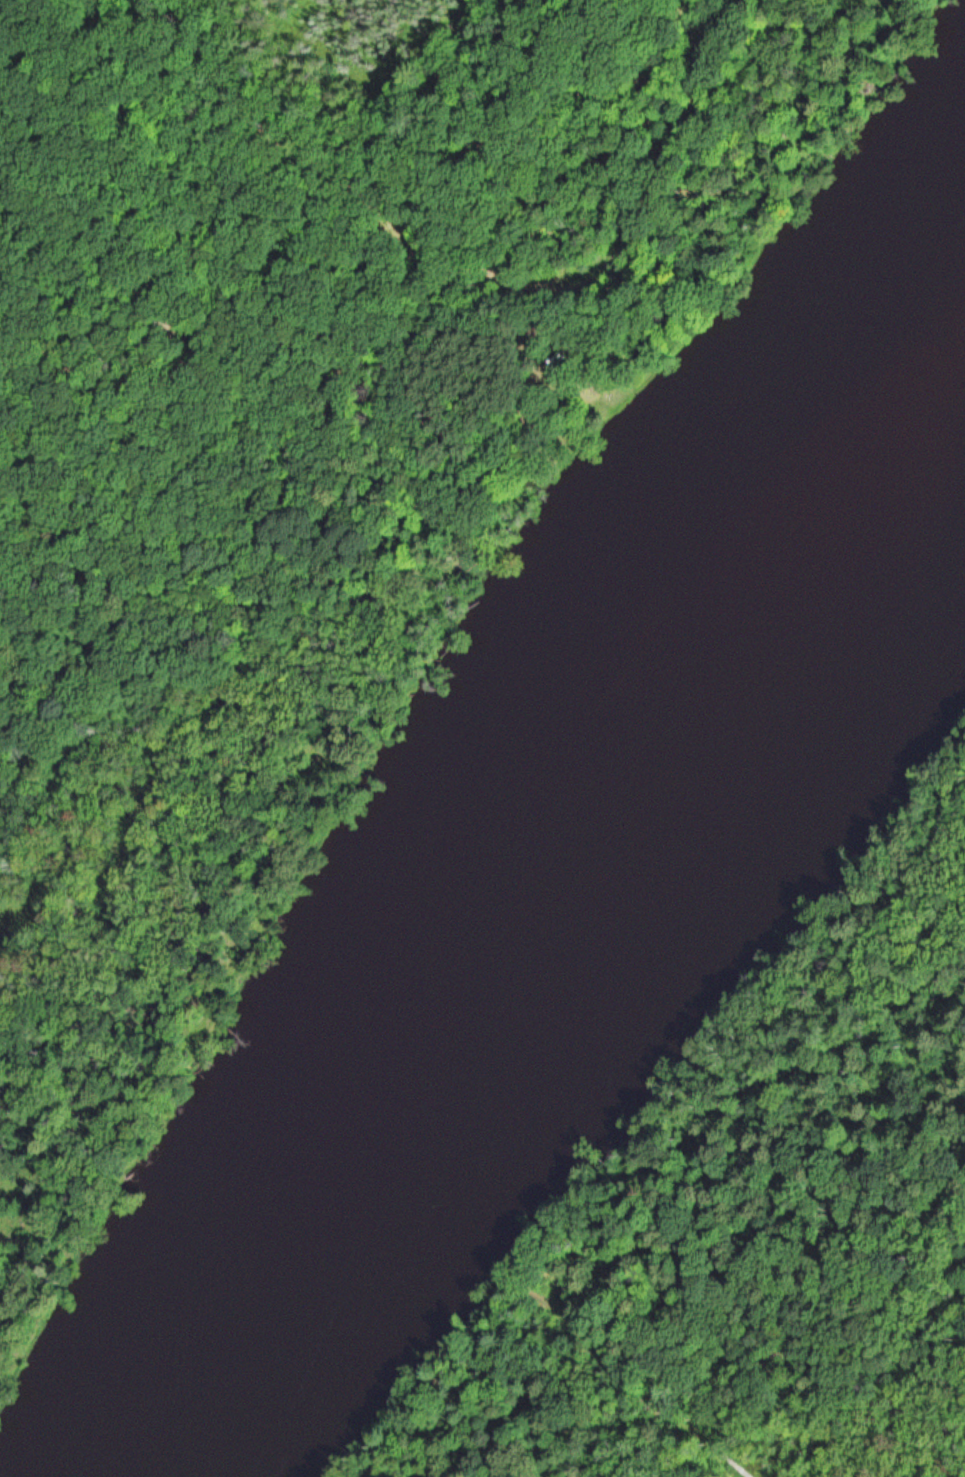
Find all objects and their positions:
road: (199, 607)
road: (369, 635)
river: (552, 915)

